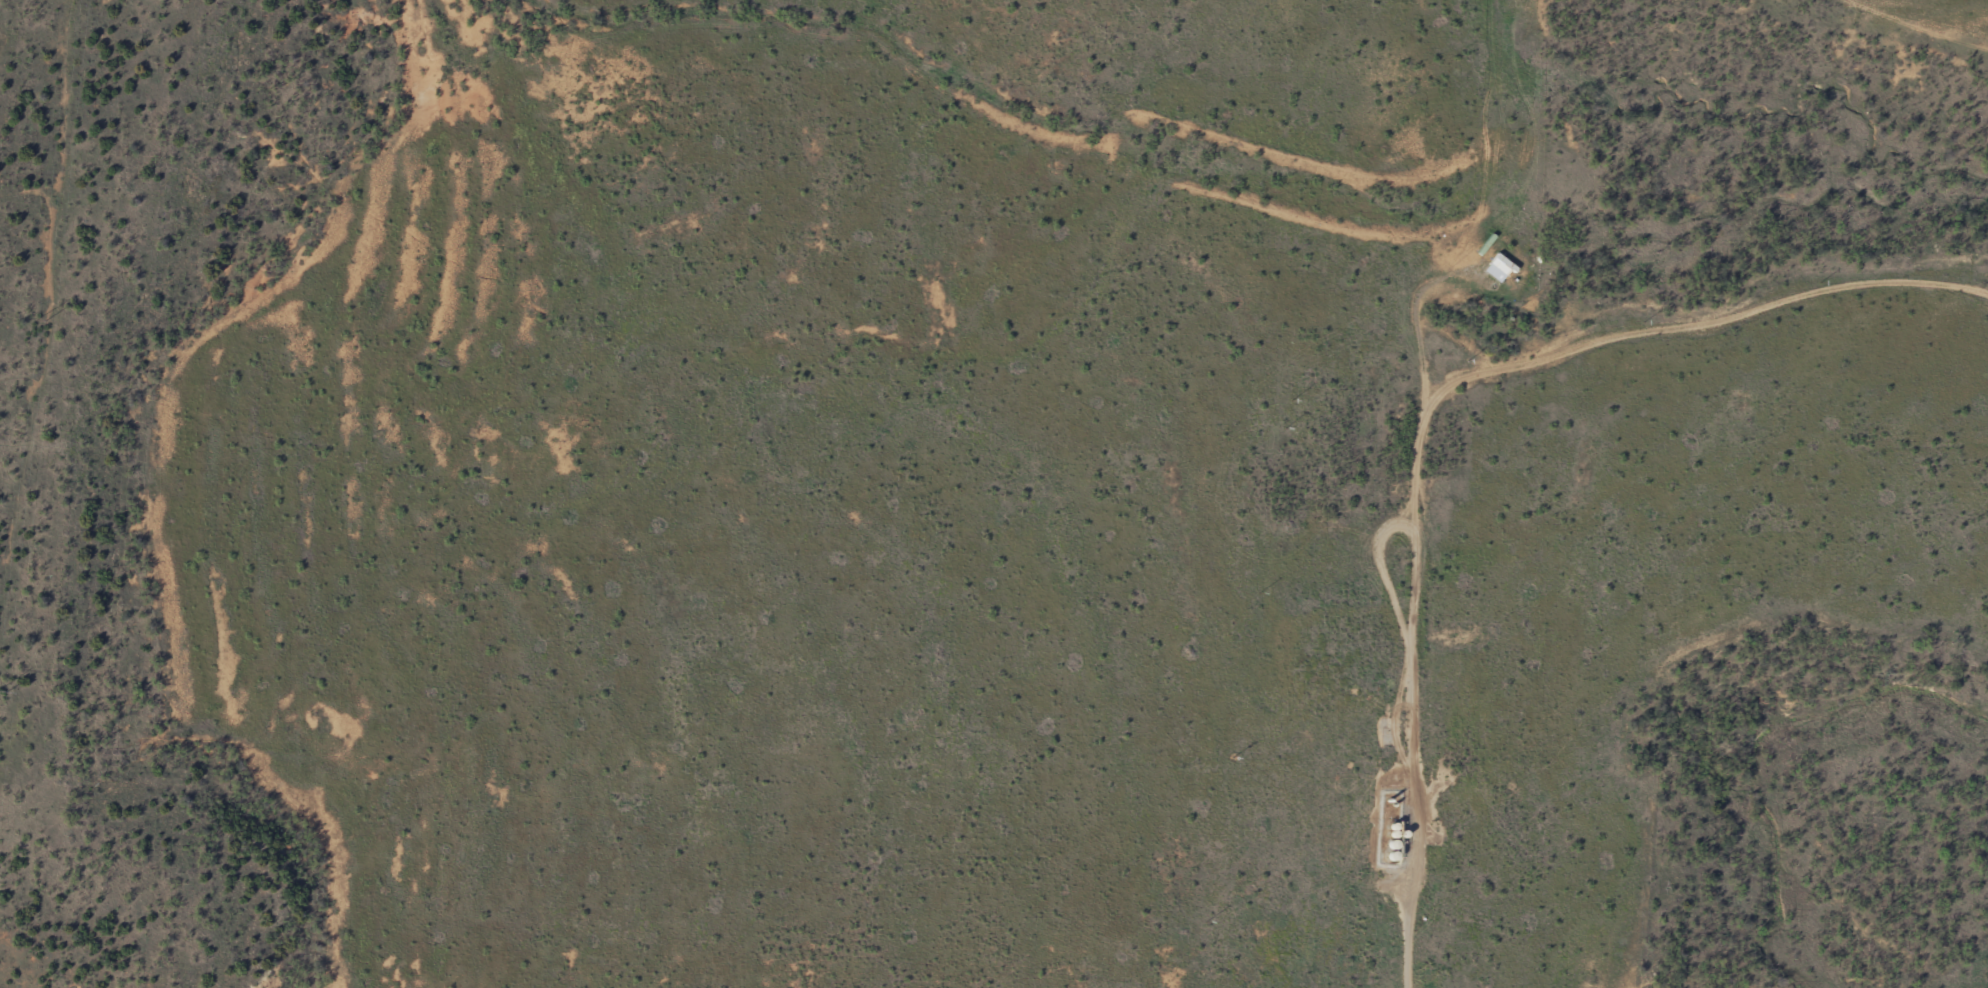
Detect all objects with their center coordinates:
power tower: (43, 321)
power tower: (4, 691)

